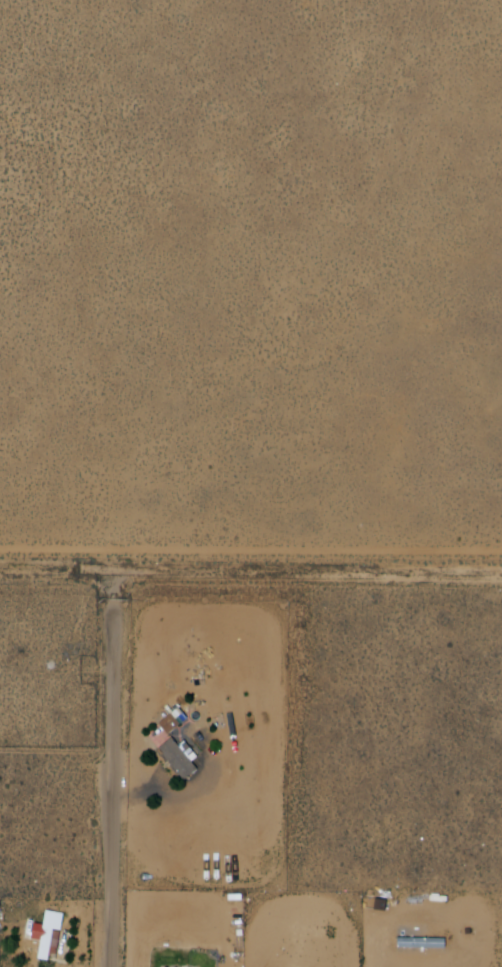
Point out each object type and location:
building: (186, 756)
road: (113, 787)
building: (51, 933)

